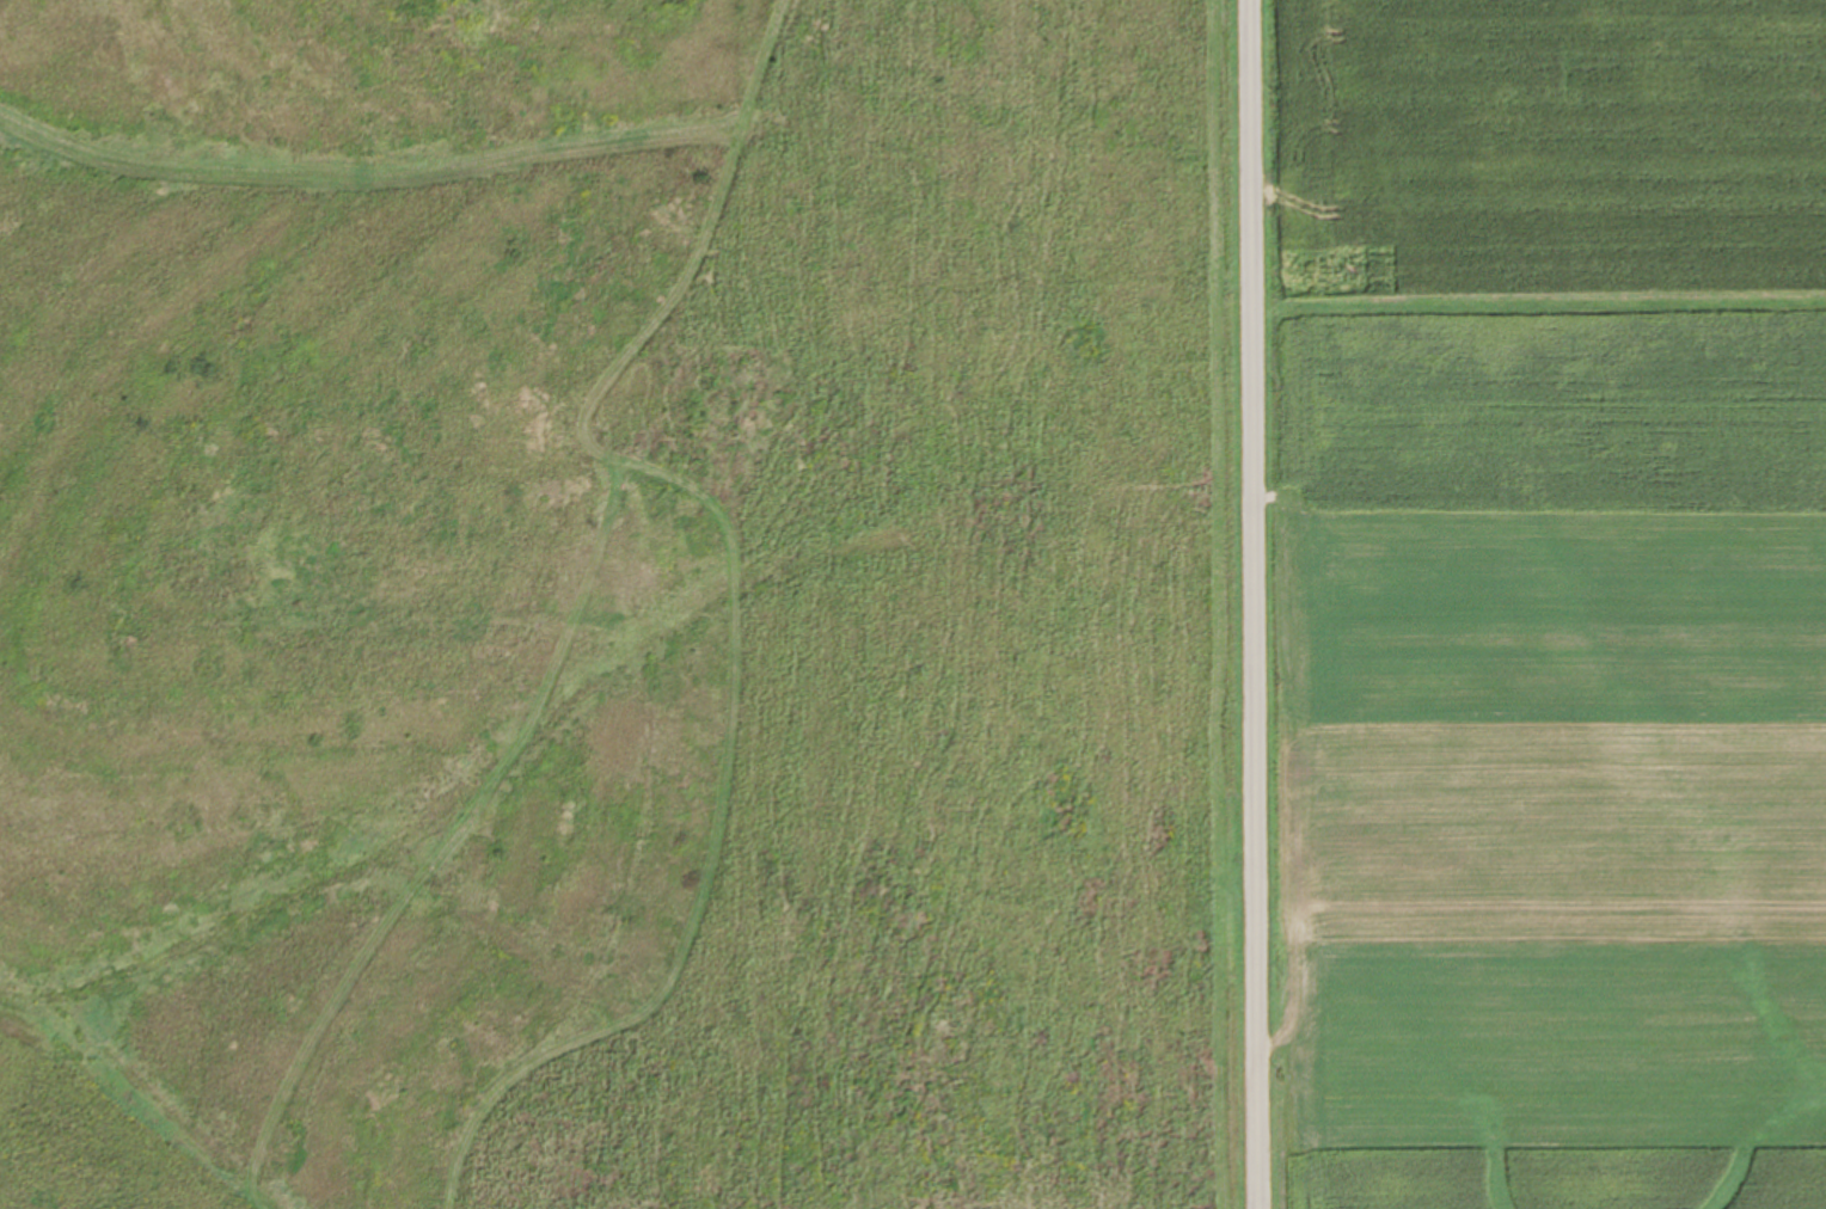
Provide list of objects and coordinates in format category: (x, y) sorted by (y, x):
road: (1256, 604)

